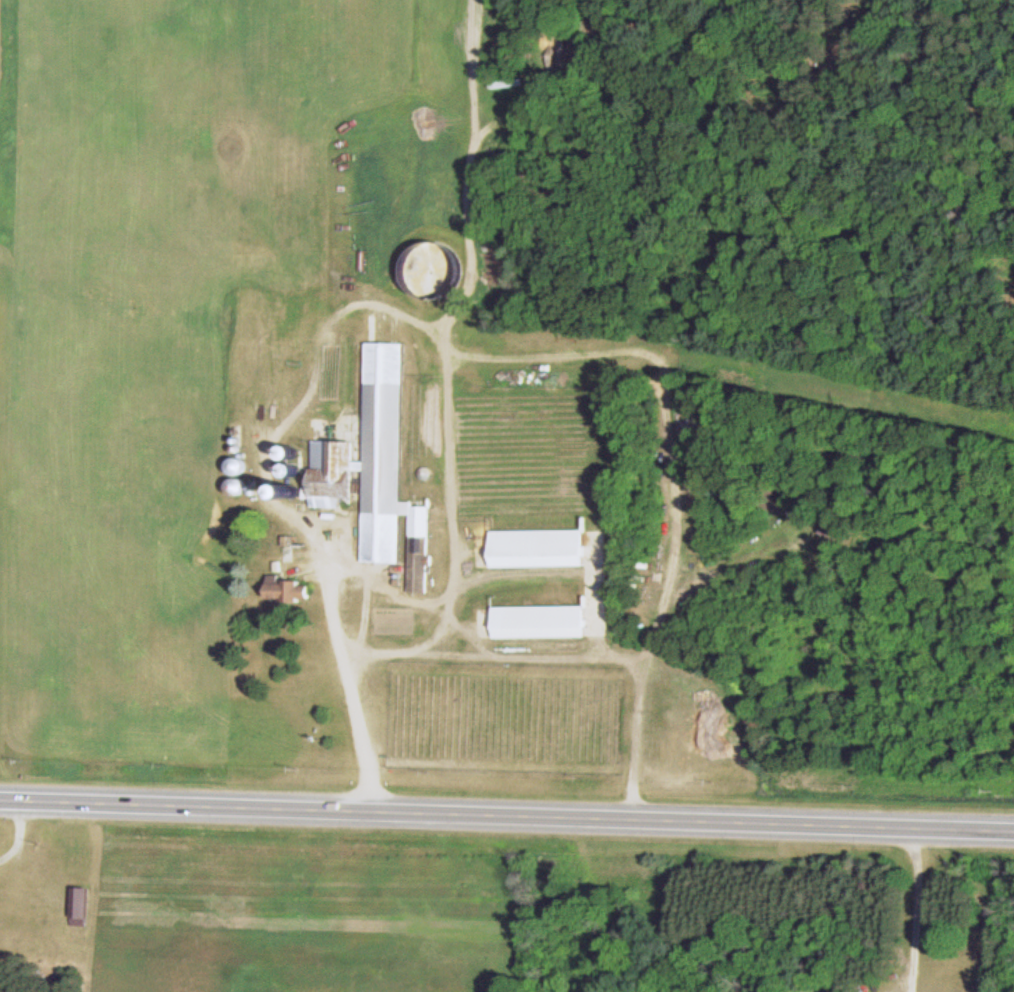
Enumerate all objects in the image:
building: (375, 470)
building: (829, 530)
building: (536, 548)
building: (285, 590)
building: (352, 592)
building: (538, 622)
road: (507, 817)
building: (77, 906)

